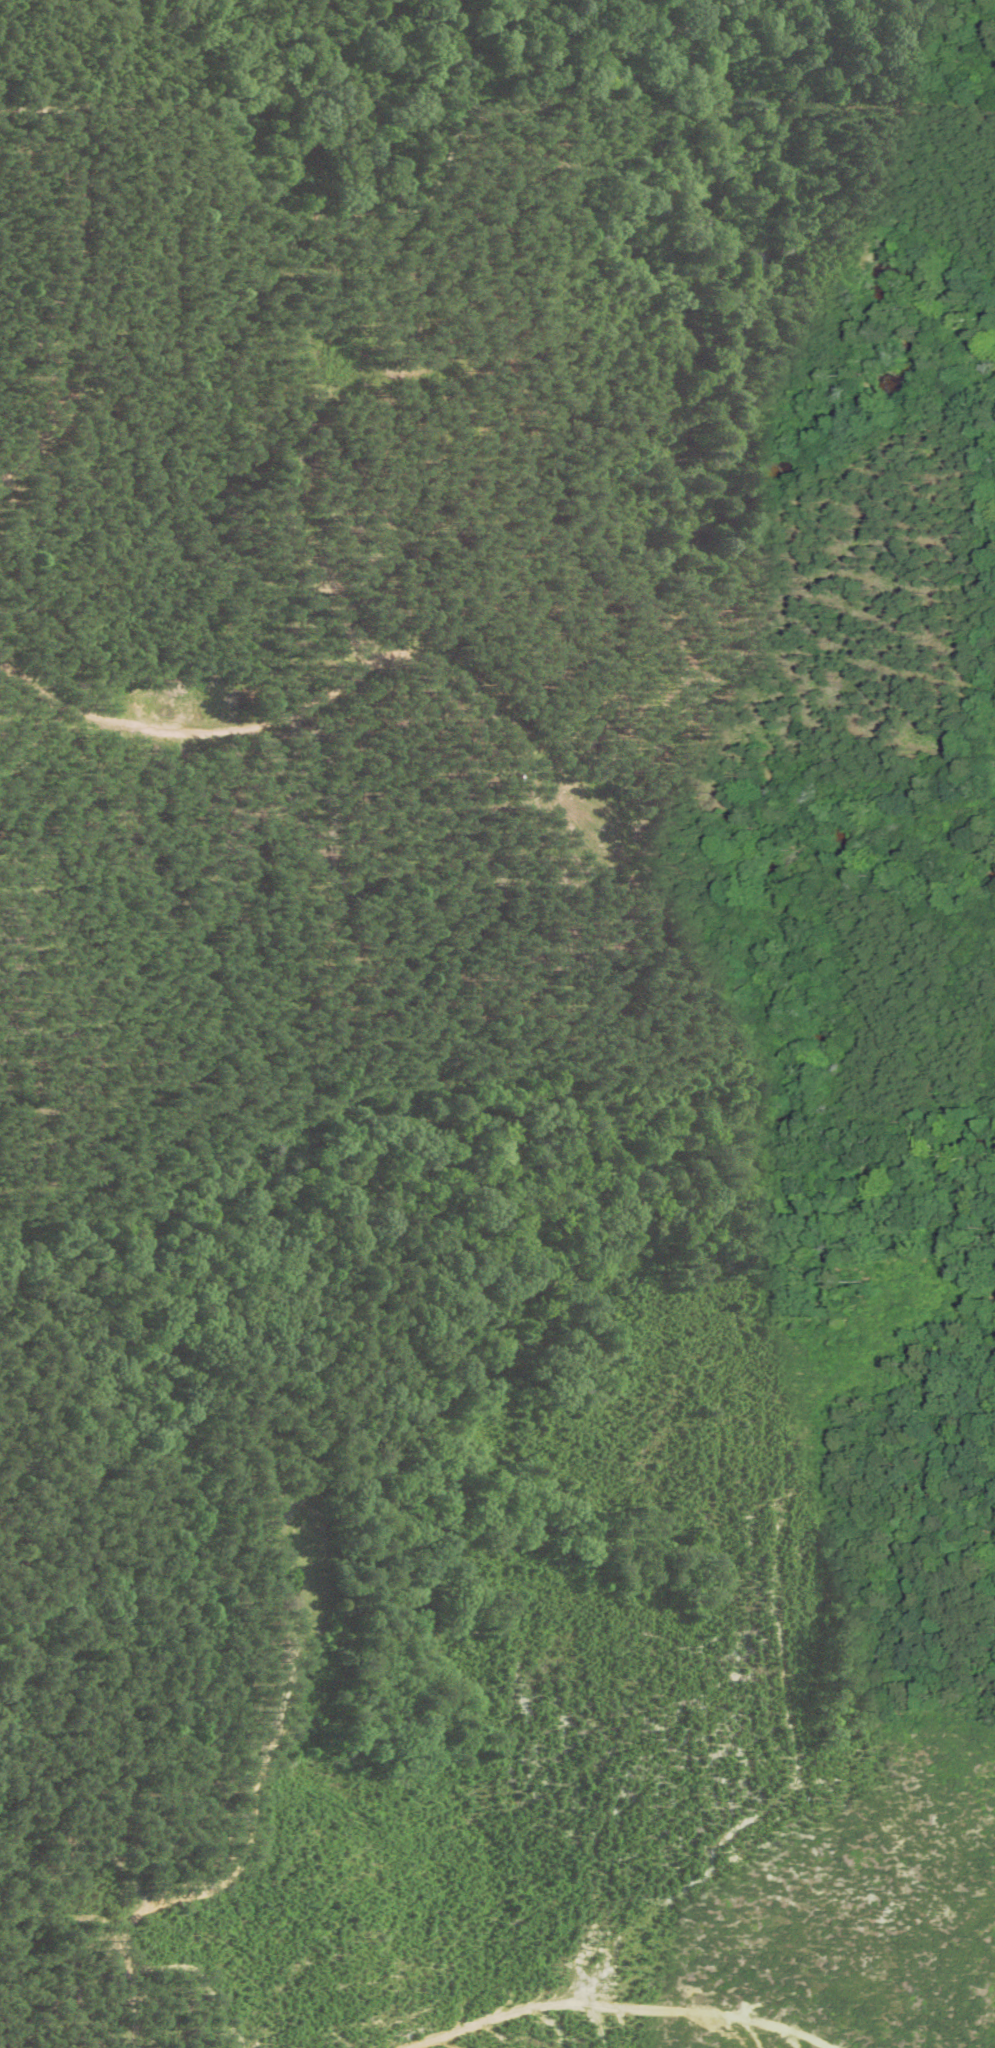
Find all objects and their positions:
road: (526, 2004)

